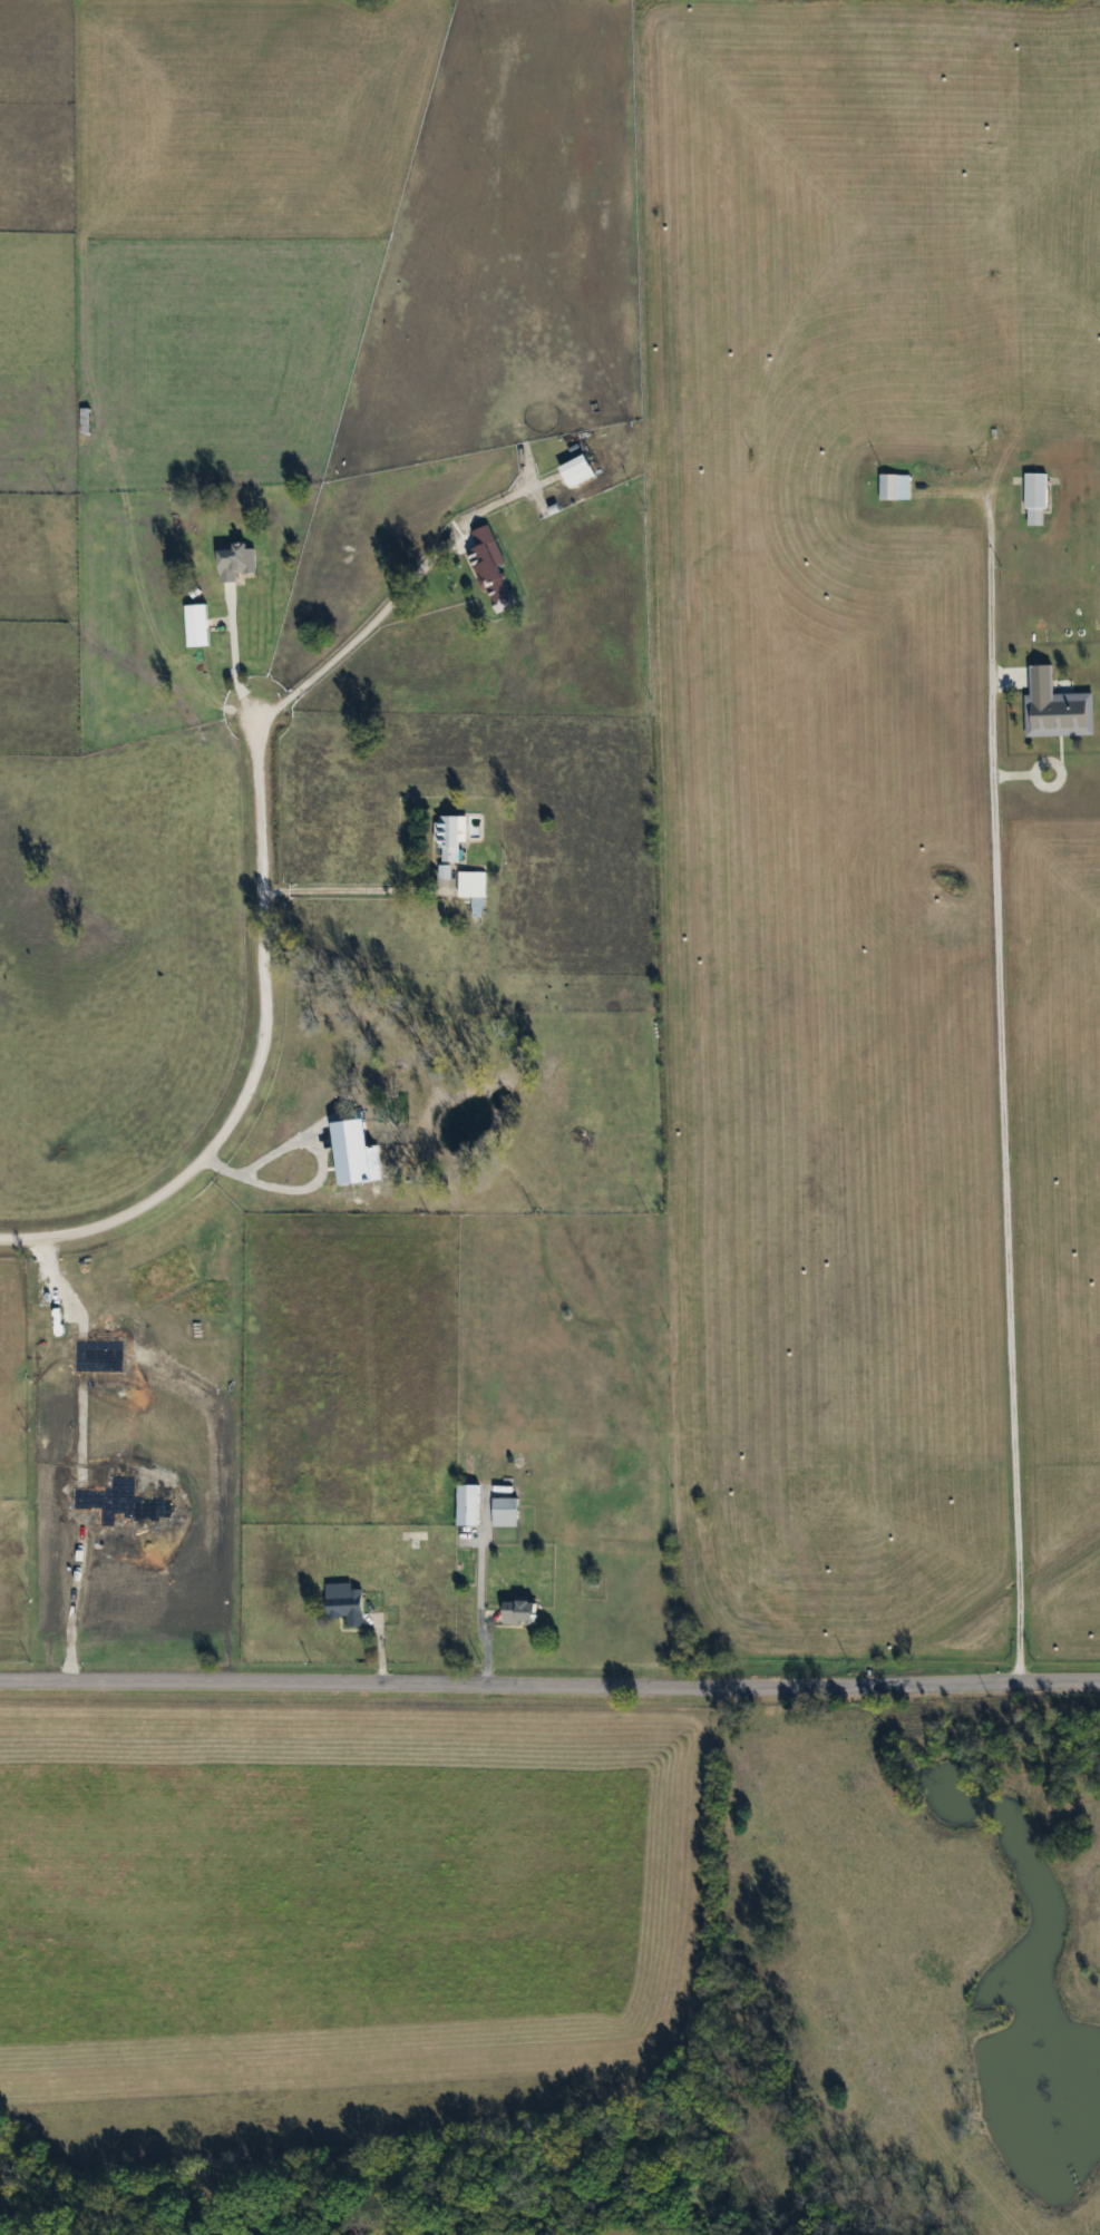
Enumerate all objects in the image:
building: (82, 421)
building: (574, 470)
building: (893, 487)
building: (1033, 499)
building: (233, 562)
building: (484, 566)
road: (395, 601)
road: (235, 656)
building: (1054, 707)
building: (448, 837)
road: (348, 890)
building: (471, 890)
road: (257, 1053)
road: (995, 1101)
road: (314, 1181)
building: (466, 1505)
building: (503, 1512)
building: (416, 1535)
building: (591, 1581)
building: (343, 1606)
road: (481, 1611)
building: (517, 1612)
road: (549, 1691)
road: (672, 1962)

